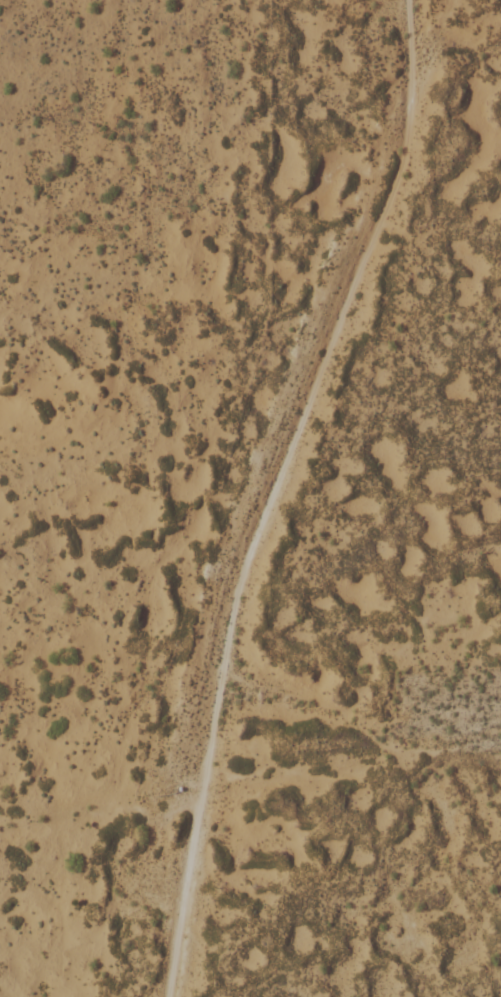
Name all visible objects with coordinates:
road: (276, 489)
road: (345, 718)

